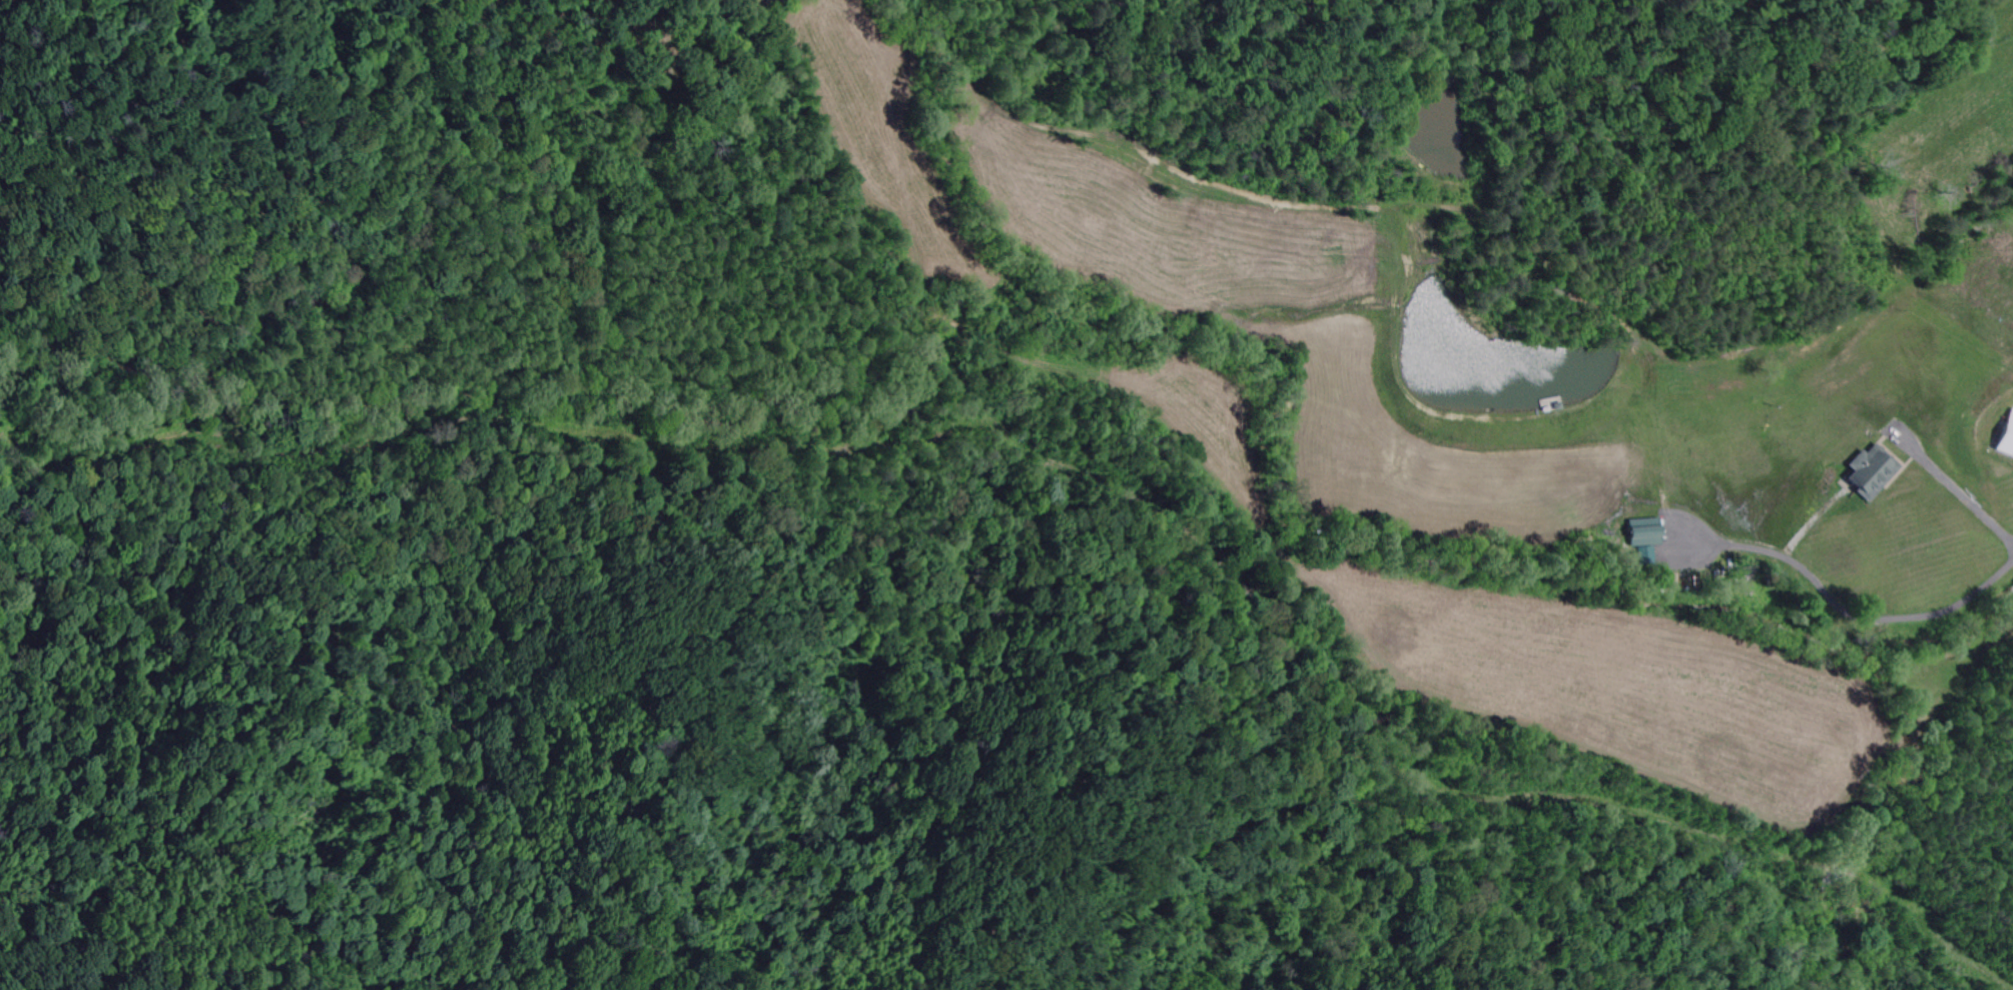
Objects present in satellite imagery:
building: (2005, 436)
building: (1866, 470)
road: (1963, 497)
building: (1640, 539)
road: (1867, 617)

